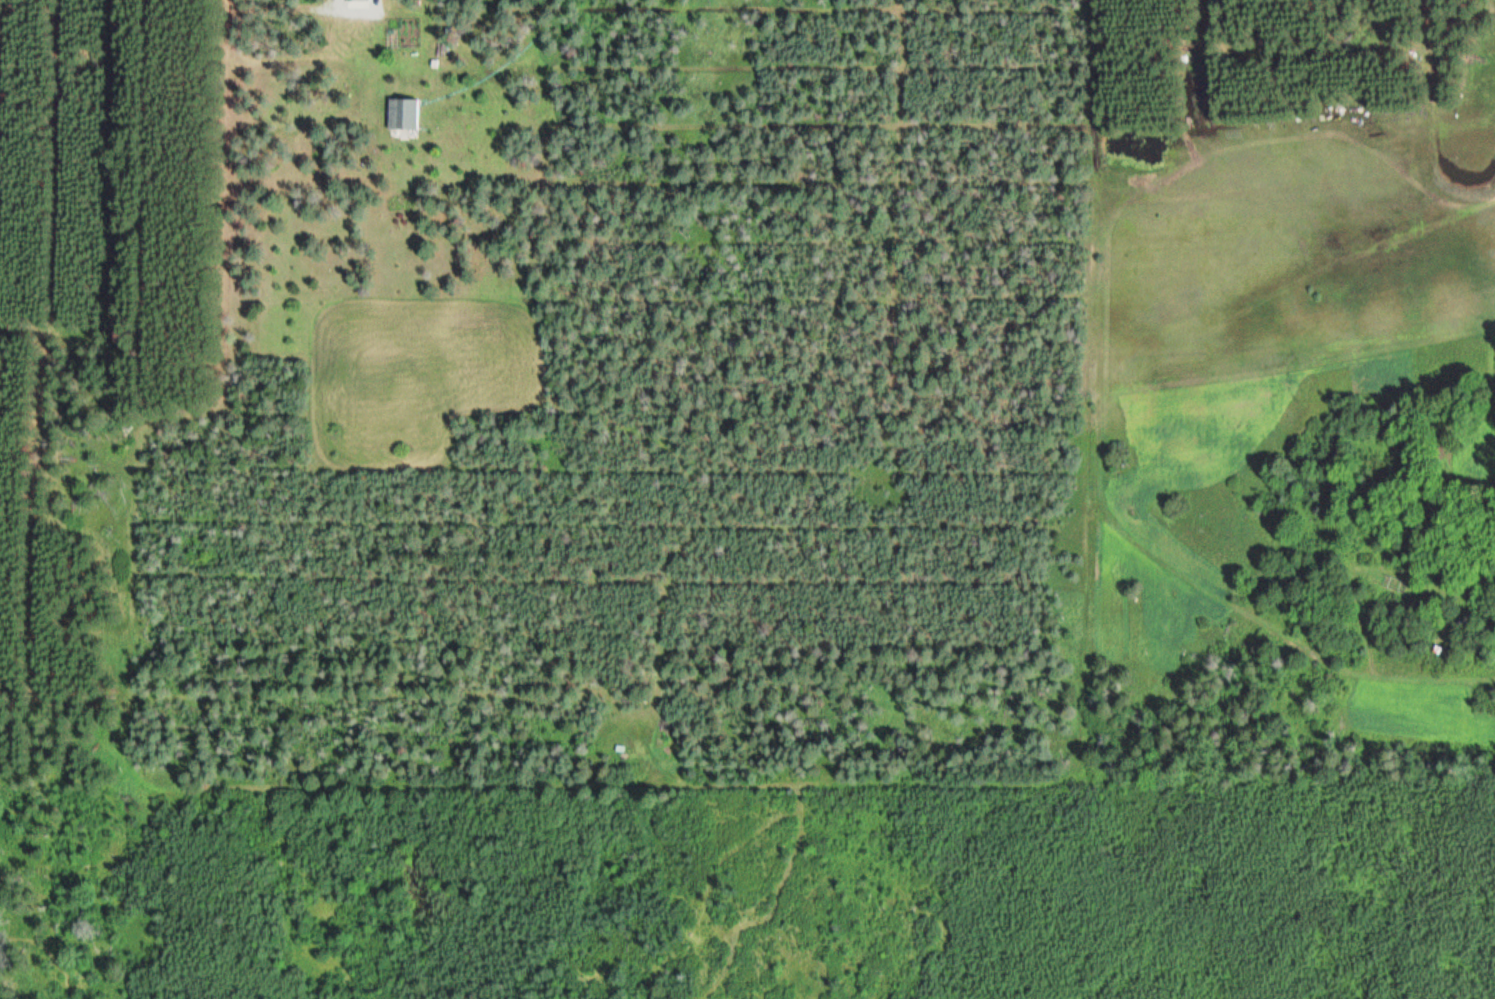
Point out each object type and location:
building: (403, 113)
road: (61, 194)

